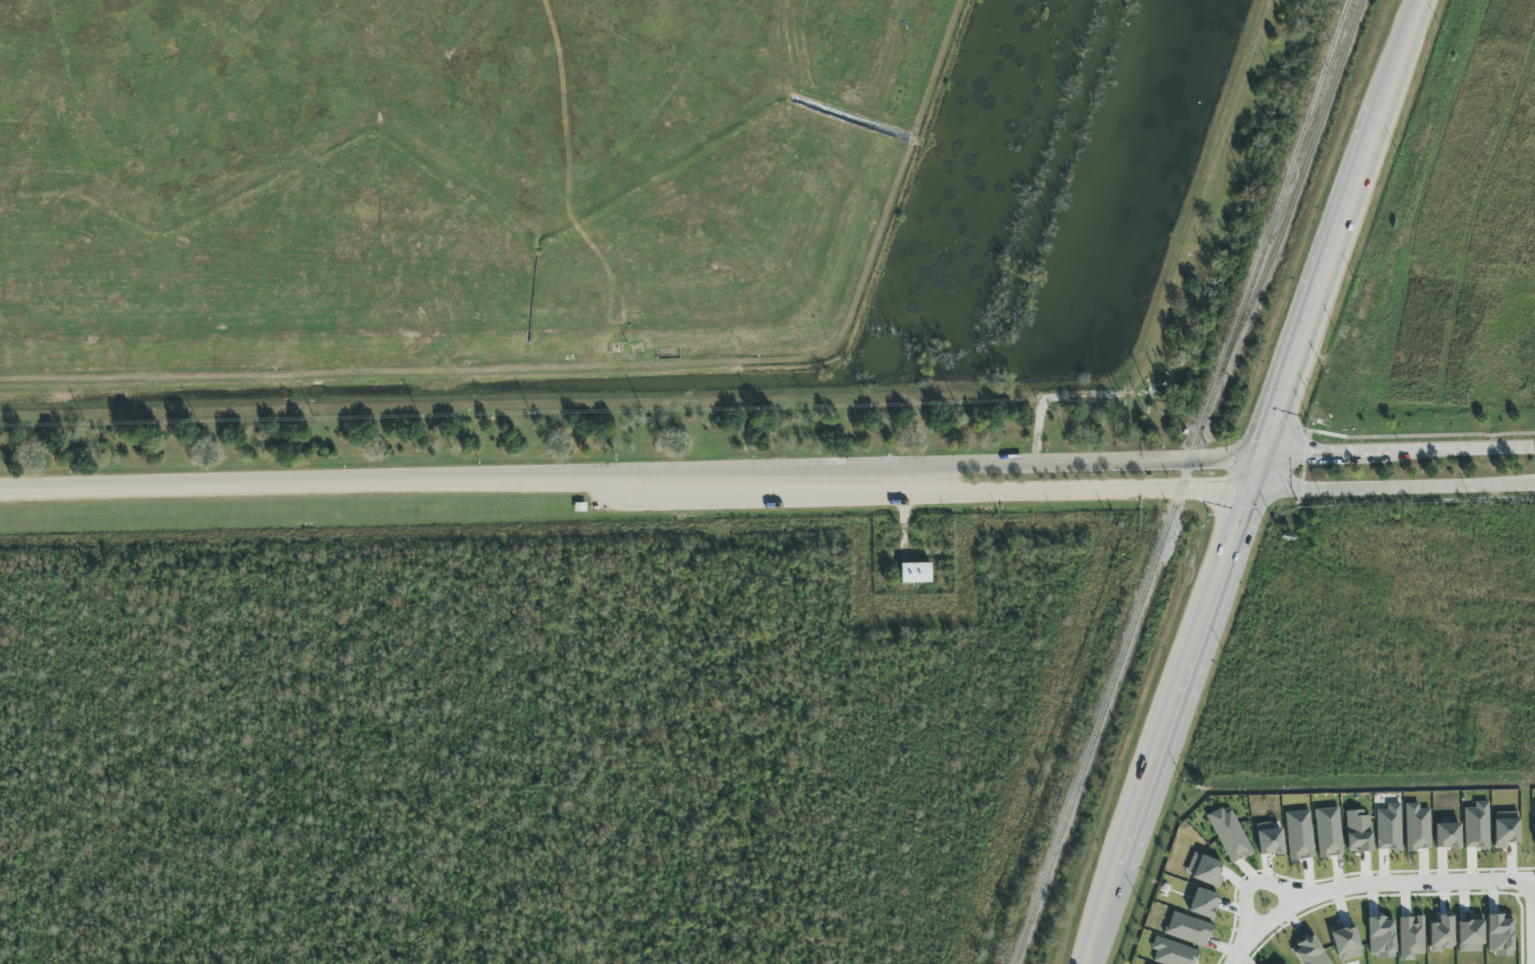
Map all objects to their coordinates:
railway: (1302, 174)
landfill: (451, 188)
road: (1444, 449)
road: (1304, 455)
traffic signals: (1259, 474)
railway: (1182, 481)
road: (1256, 481)
road: (629, 485)
road: (1395, 488)
building: (914, 572)
building: (1534, 814)
building: (1477, 826)
building: (1417, 827)
building: (1389, 828)
building: (1505, 829)
building: (1358, 831)
building: (1328, 832)
building: (1229, 835)
building: (1299, 835)
building: (1447, 835)
building: (1269, 839)
building: (1204, 870)
road: (1391, 880)
building: (1204, 903)
road: (1227, 927)
building: (1188, 929)
building: (1470, 933)
building: (1441, 934)
building: (1499, 935)
building: (1411, 937)
building: (1345, 942)
building: (1173, 952)
building: (1309, 952)
building: (1274, 963)

